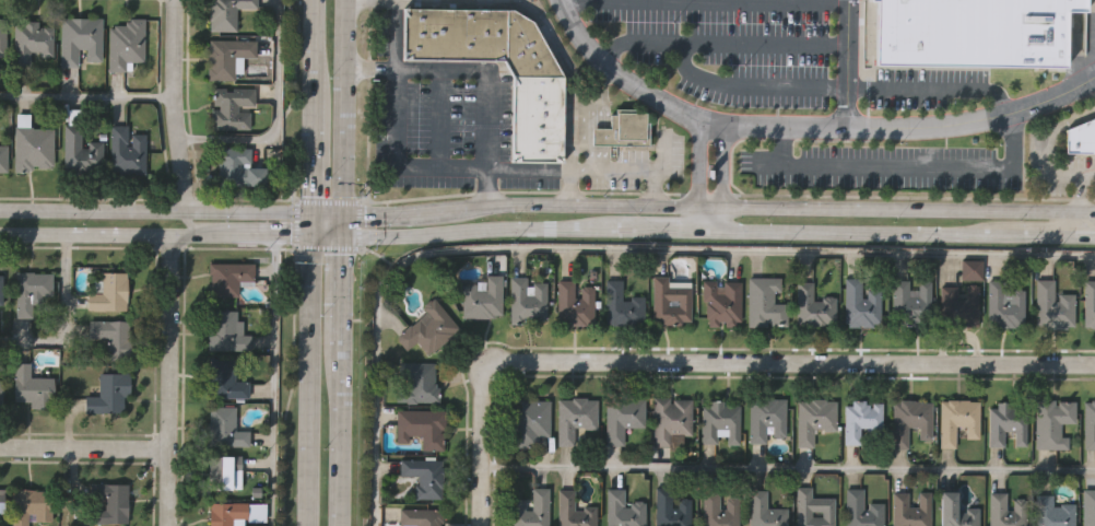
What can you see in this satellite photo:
road: (703, 4)
building: (226, 13)
building: (973, 31)
building: (454, 33)
road: (546, 34)
building: (2, 35)
building: (80, 39)
building: (32, 40)
building: (125, 43)
road: (718, 44)
road: (314, 46)
building: (527, 48)
parking lot: (727, 50)
building: (227, 57)
road: (846, 62)
road: (484, 67)
road: (1093, 82)
road: (747, 85)
road: (932, 87)
road: (83, 97)
road: (1050, 97)
road: (367, 102)
road: (166, 106)
building: (233, 106)
road: (432, 117)
road: (271, 118)
road: (592, 118)
building: (538, 119)
road: (755, 127)
road: (1051, 127)
building: (624, 130)
building: (1080, 138)
building: (34, 147)
building: (79, 150)
building: (126, 150)
road: (313, 151)
building: (3, 157)
building: (238, 167)
road: (459, 167)
road: (870, 168)
road: (1021, 174)
road: (711, 177)
road: (328, 200)
road: (703, 200)
road: (1074, 203)
road: (155, 210)
traffic signals: (313, 211)
traffic signals: (346, 211)
road: (190, 223)
road: (296, 223)
road: (313, 224)
road: (360, 225)
road: (703, 227)
road: (156, 235)
traffic signals: (313, 237)
traffic signals: (345, 237)
road: (148, 247)
road: (327, 248)
road: (610, 254)
road: (344, 262)
building: (972, 270)
building: (227, 277)
building: (0, 288)
building: (31, 290)
building: (110, 292)
building: (479, 295)
building: (526, 297)
building: (670, 300)
building: (909, 300)
building: (720, 301)
building: (763, 301)
building: (1088, 301)
building: (573, 302)
building: (858, 302)
building: (958, 302)
building: (1002, 303)
building: (620, 304)
building: (811, 304)
building: (1051, 305)
road: (63, 318)
building: (426, 327)
building: (223, 329)
building: (111, 332)
road: (794, 362)
building: (225, 379)
road: (170, 381)
building: (414, 381)
road: (310, 382)
building: (33, 387)
building: (0, 391)
building: (109, 391)
road: (263, 397)
building: (573, 416)
building: (621, 416)
building: (764, 417)
building: (813, 417)
building: (859, 417)
building: (669, 418)
building: (908, 419)
building: (955, 419)
building: (528, 420)
building: (719, 420)
building: (1004, 421)
building: (1050, 421)
building: (1088, 422)
building: (419, 425)
building: (224, 426)
road: (485, 442)
road: (84, 447)
road: (790, 467)
building: (227, 471)
building: (421, 475)
building: (3, 500)
building: (109, 503)
building: (30, 504)
building: (1087, 506)
building: (529, 507)
building: (669, 507)
building: (812, 507)
building: (622, 509)
building: (718, 509)
building: (860, 509)
building: (909, 509)
building: (1004, 509)
building: (572, 510)
building: (763, 510)
building: (953, 511)
building: (1050, 511)
building: (224, 514)
building: (419, 516)

